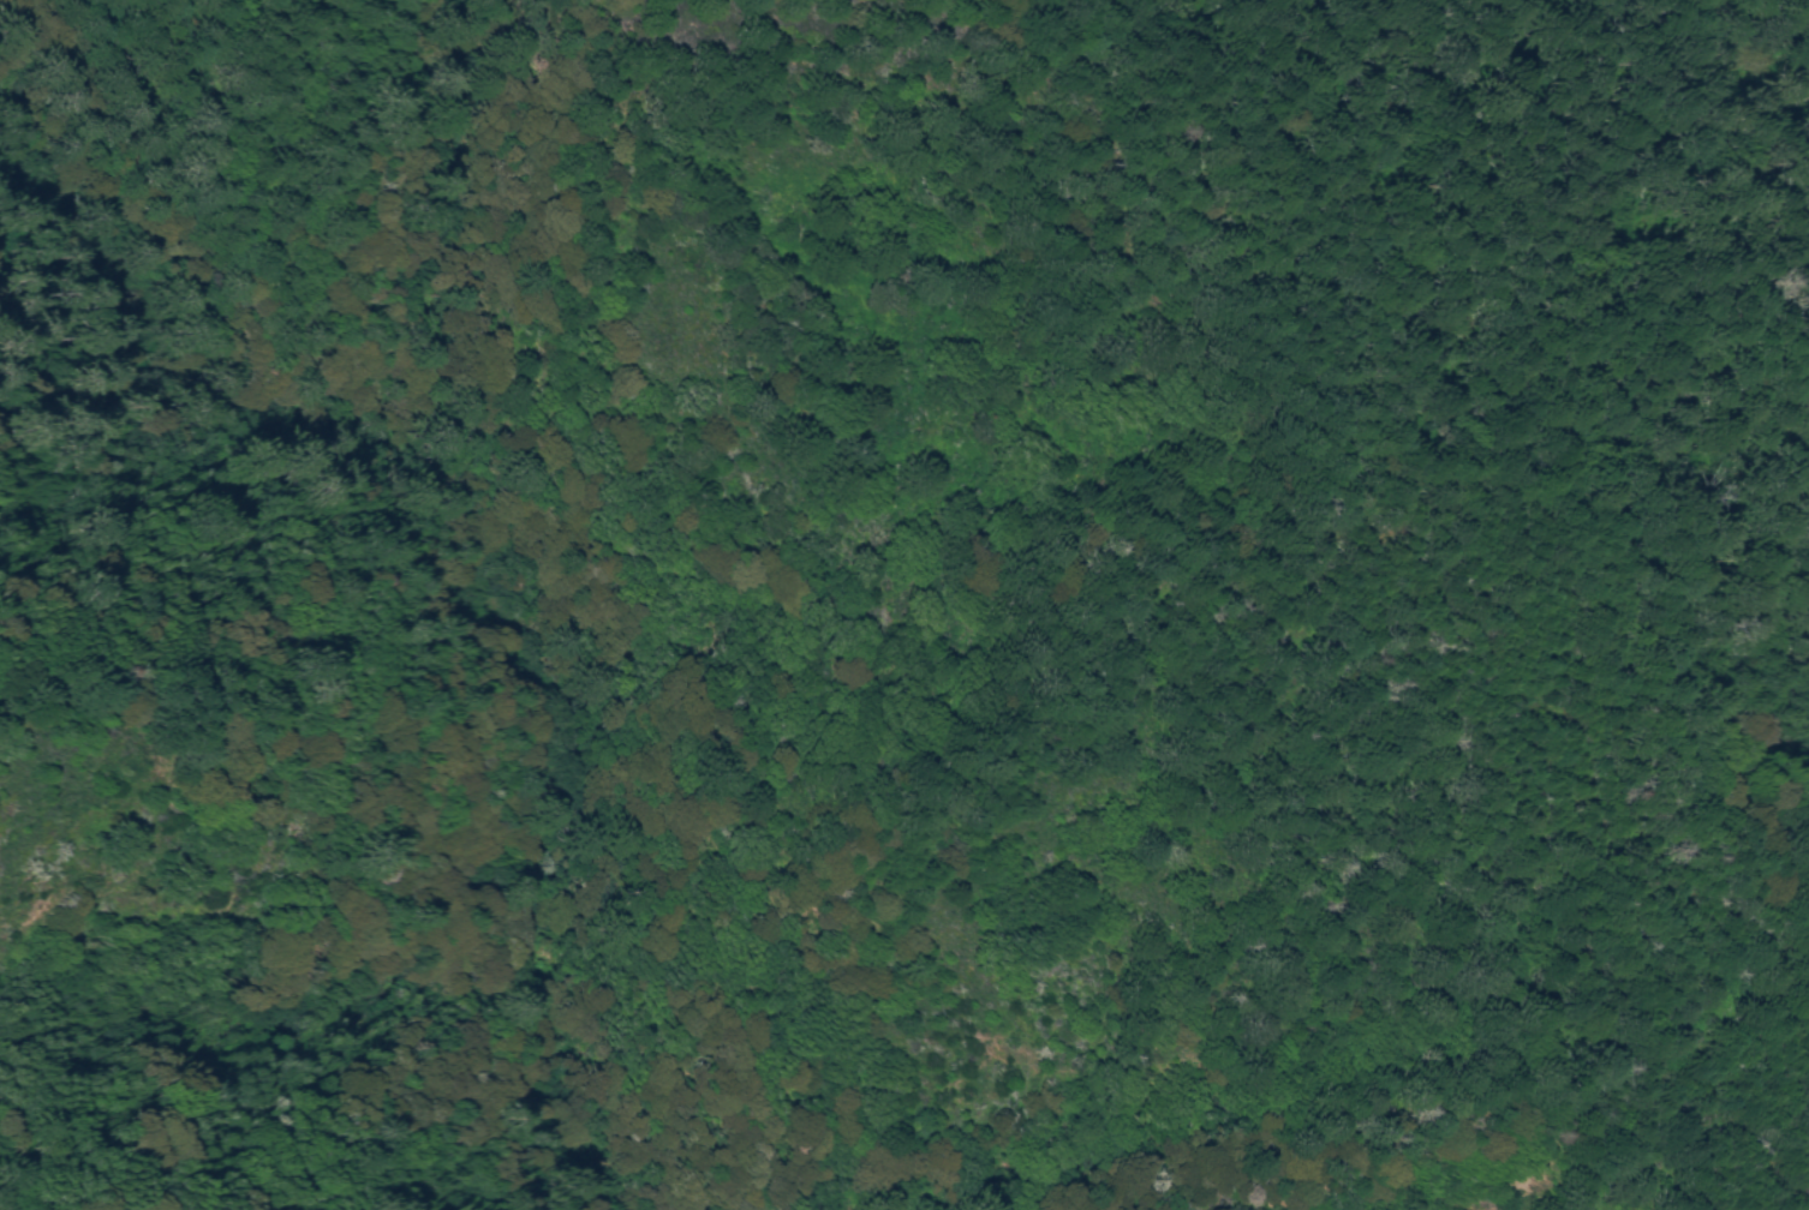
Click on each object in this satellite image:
road: (1374, 444)

